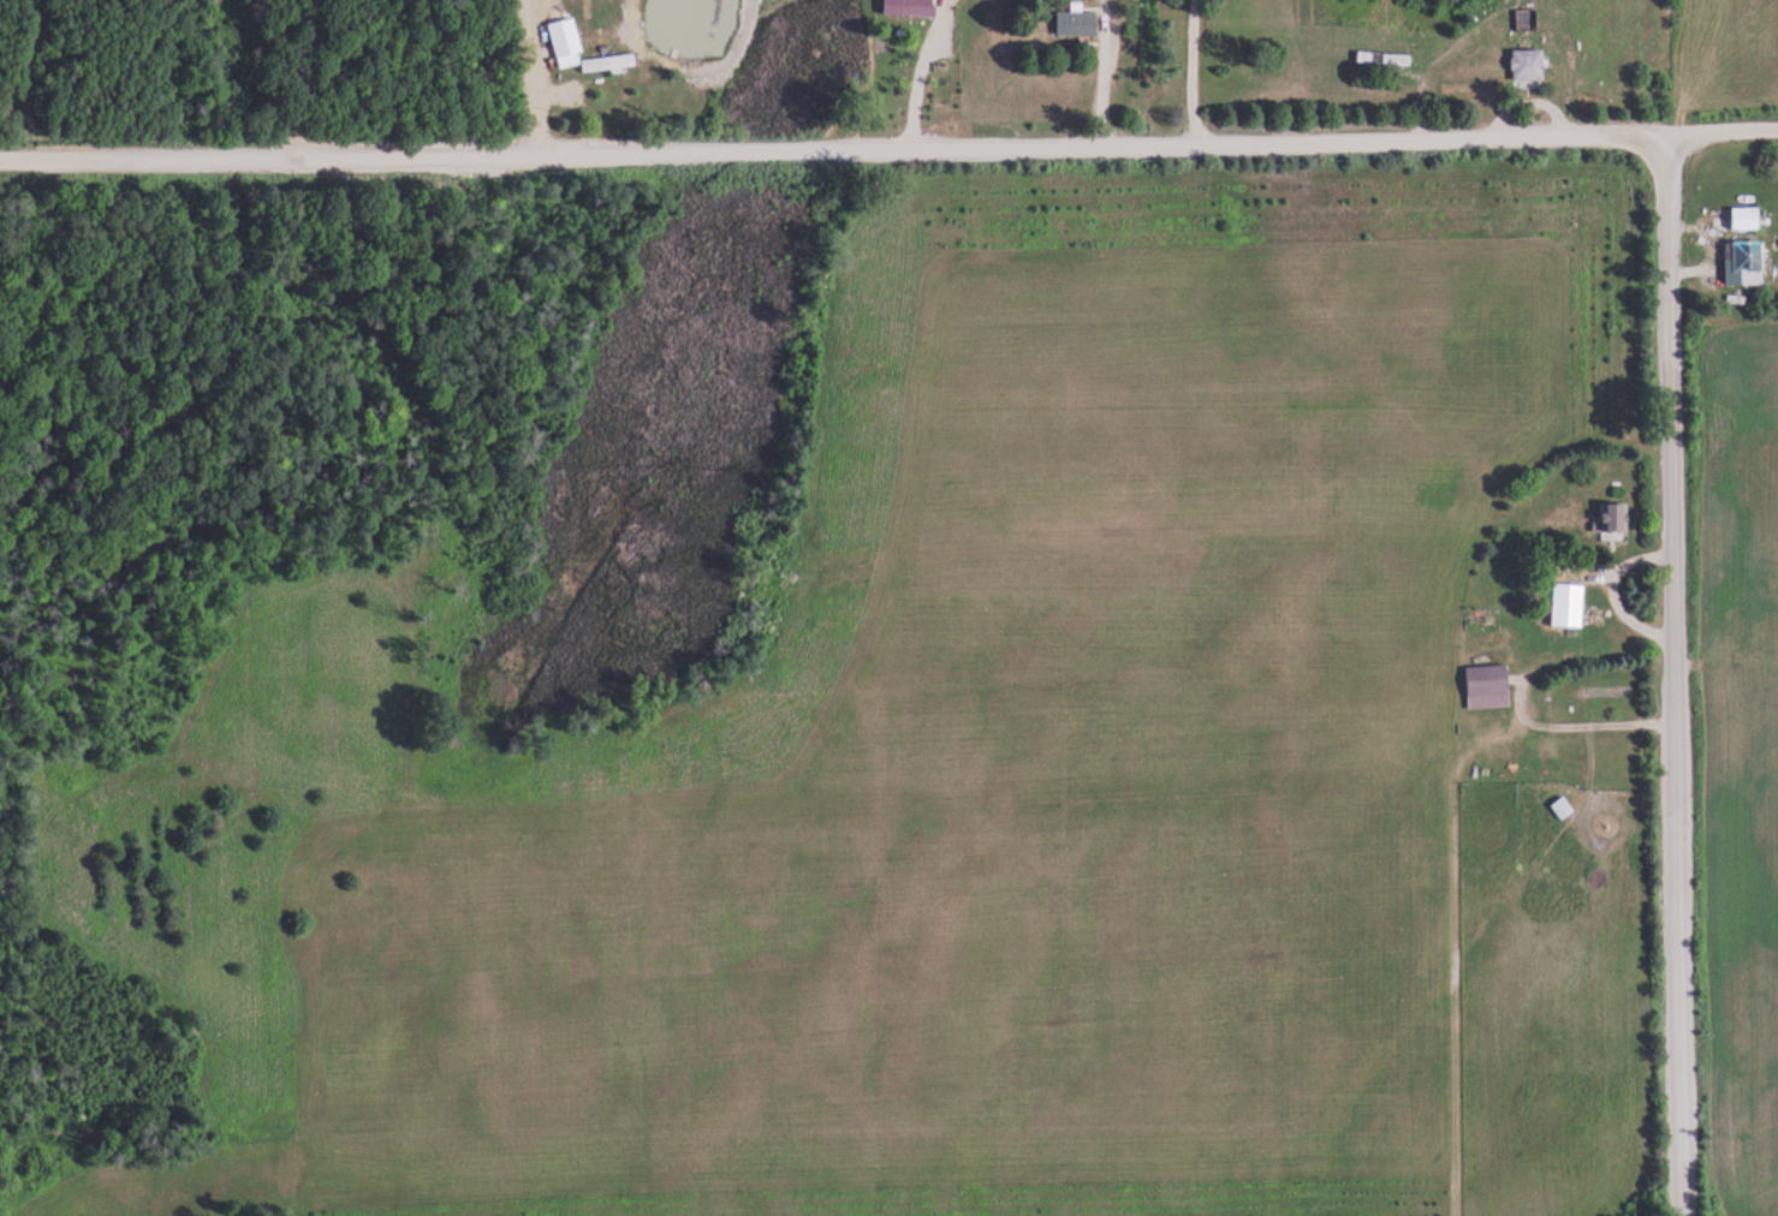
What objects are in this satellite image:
building: (909, 8)
building: (1077, 23)
building: (565, 37)
building: (1528, 65)
road: (912, 72)
road: (1188, 74)
road: (547, 77)
road: (888, 151)
building: (1747, 219)
building: (1746, 263)
building: (1616, 518)
building: (1569, 606)
road: (1675, 680)
building: (1488, 681)
building: (1563, 809)

